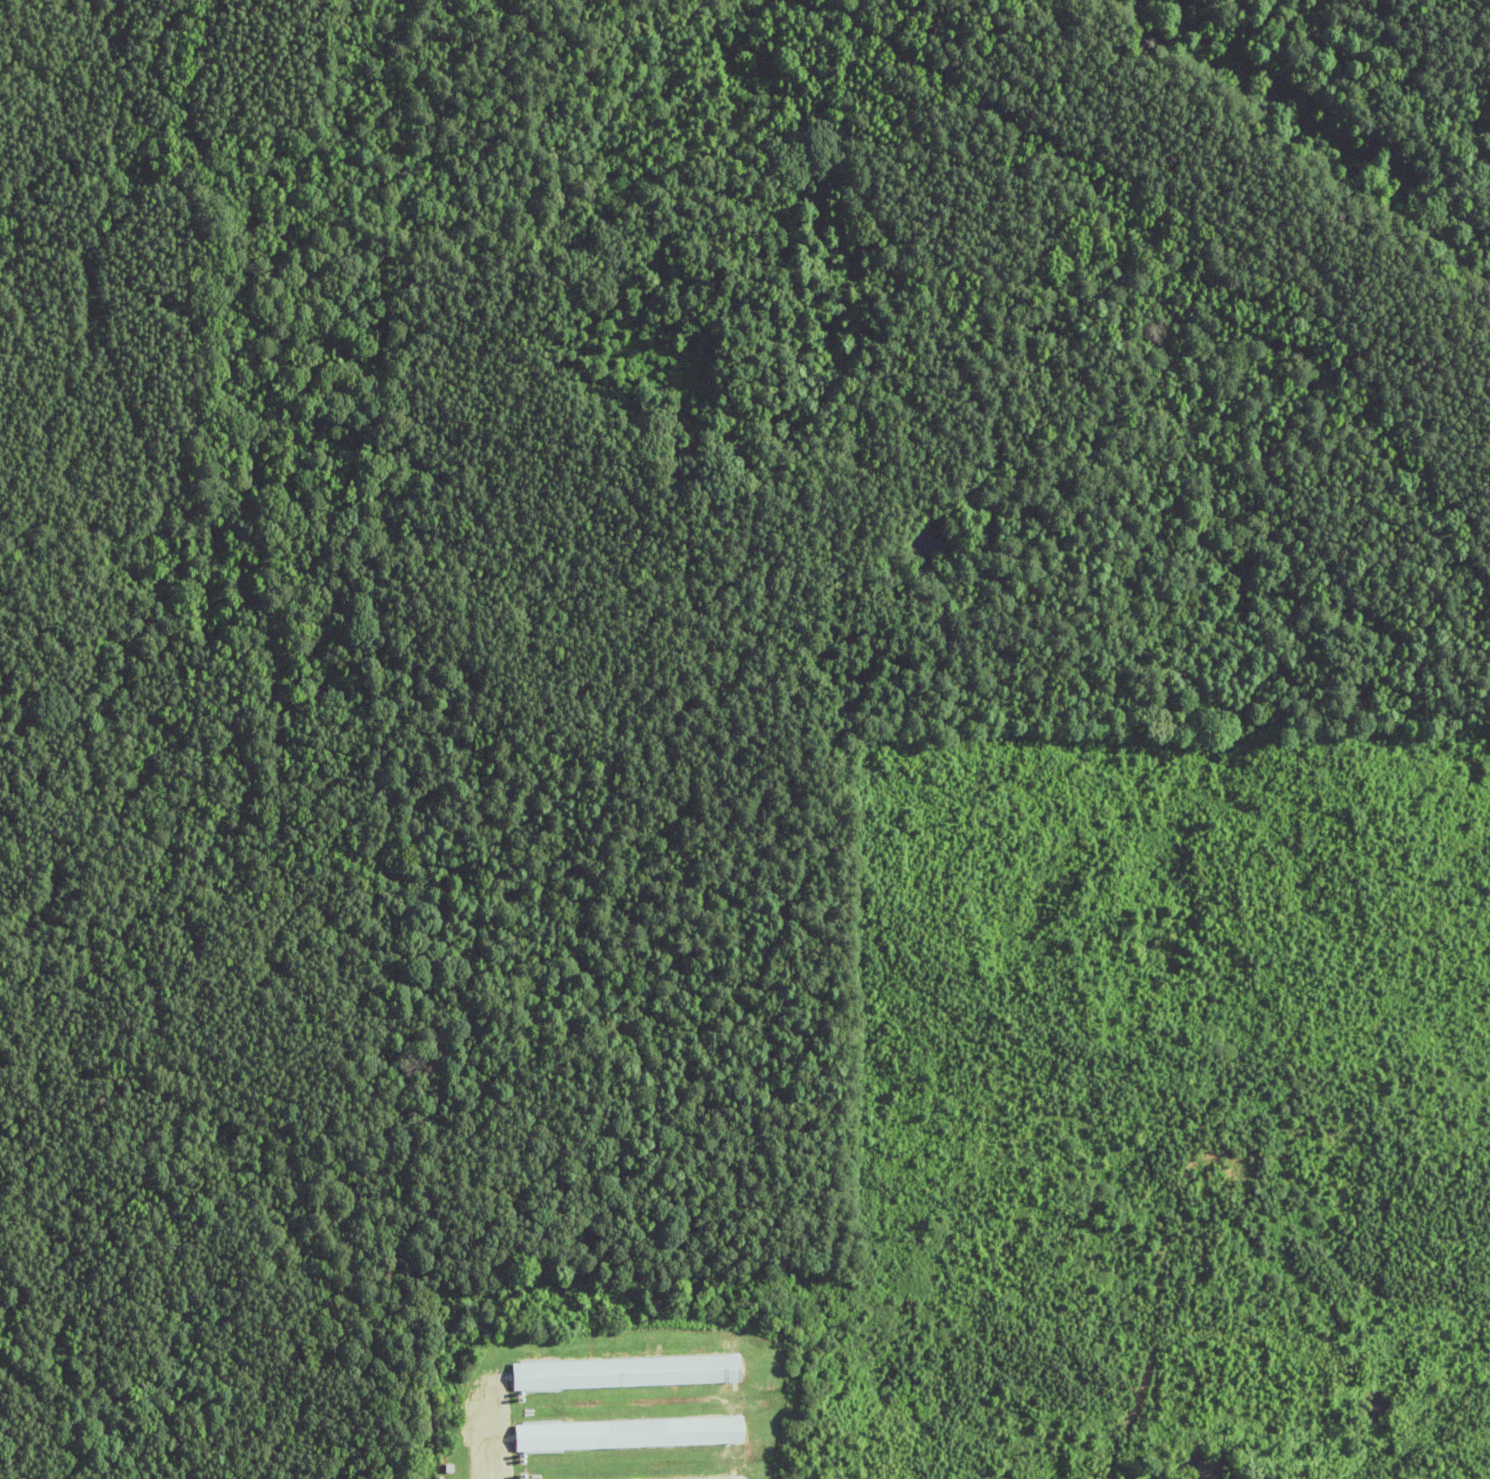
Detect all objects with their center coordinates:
building: (626, 1371)
building: (628, 1433)
building: (729, 1478)

